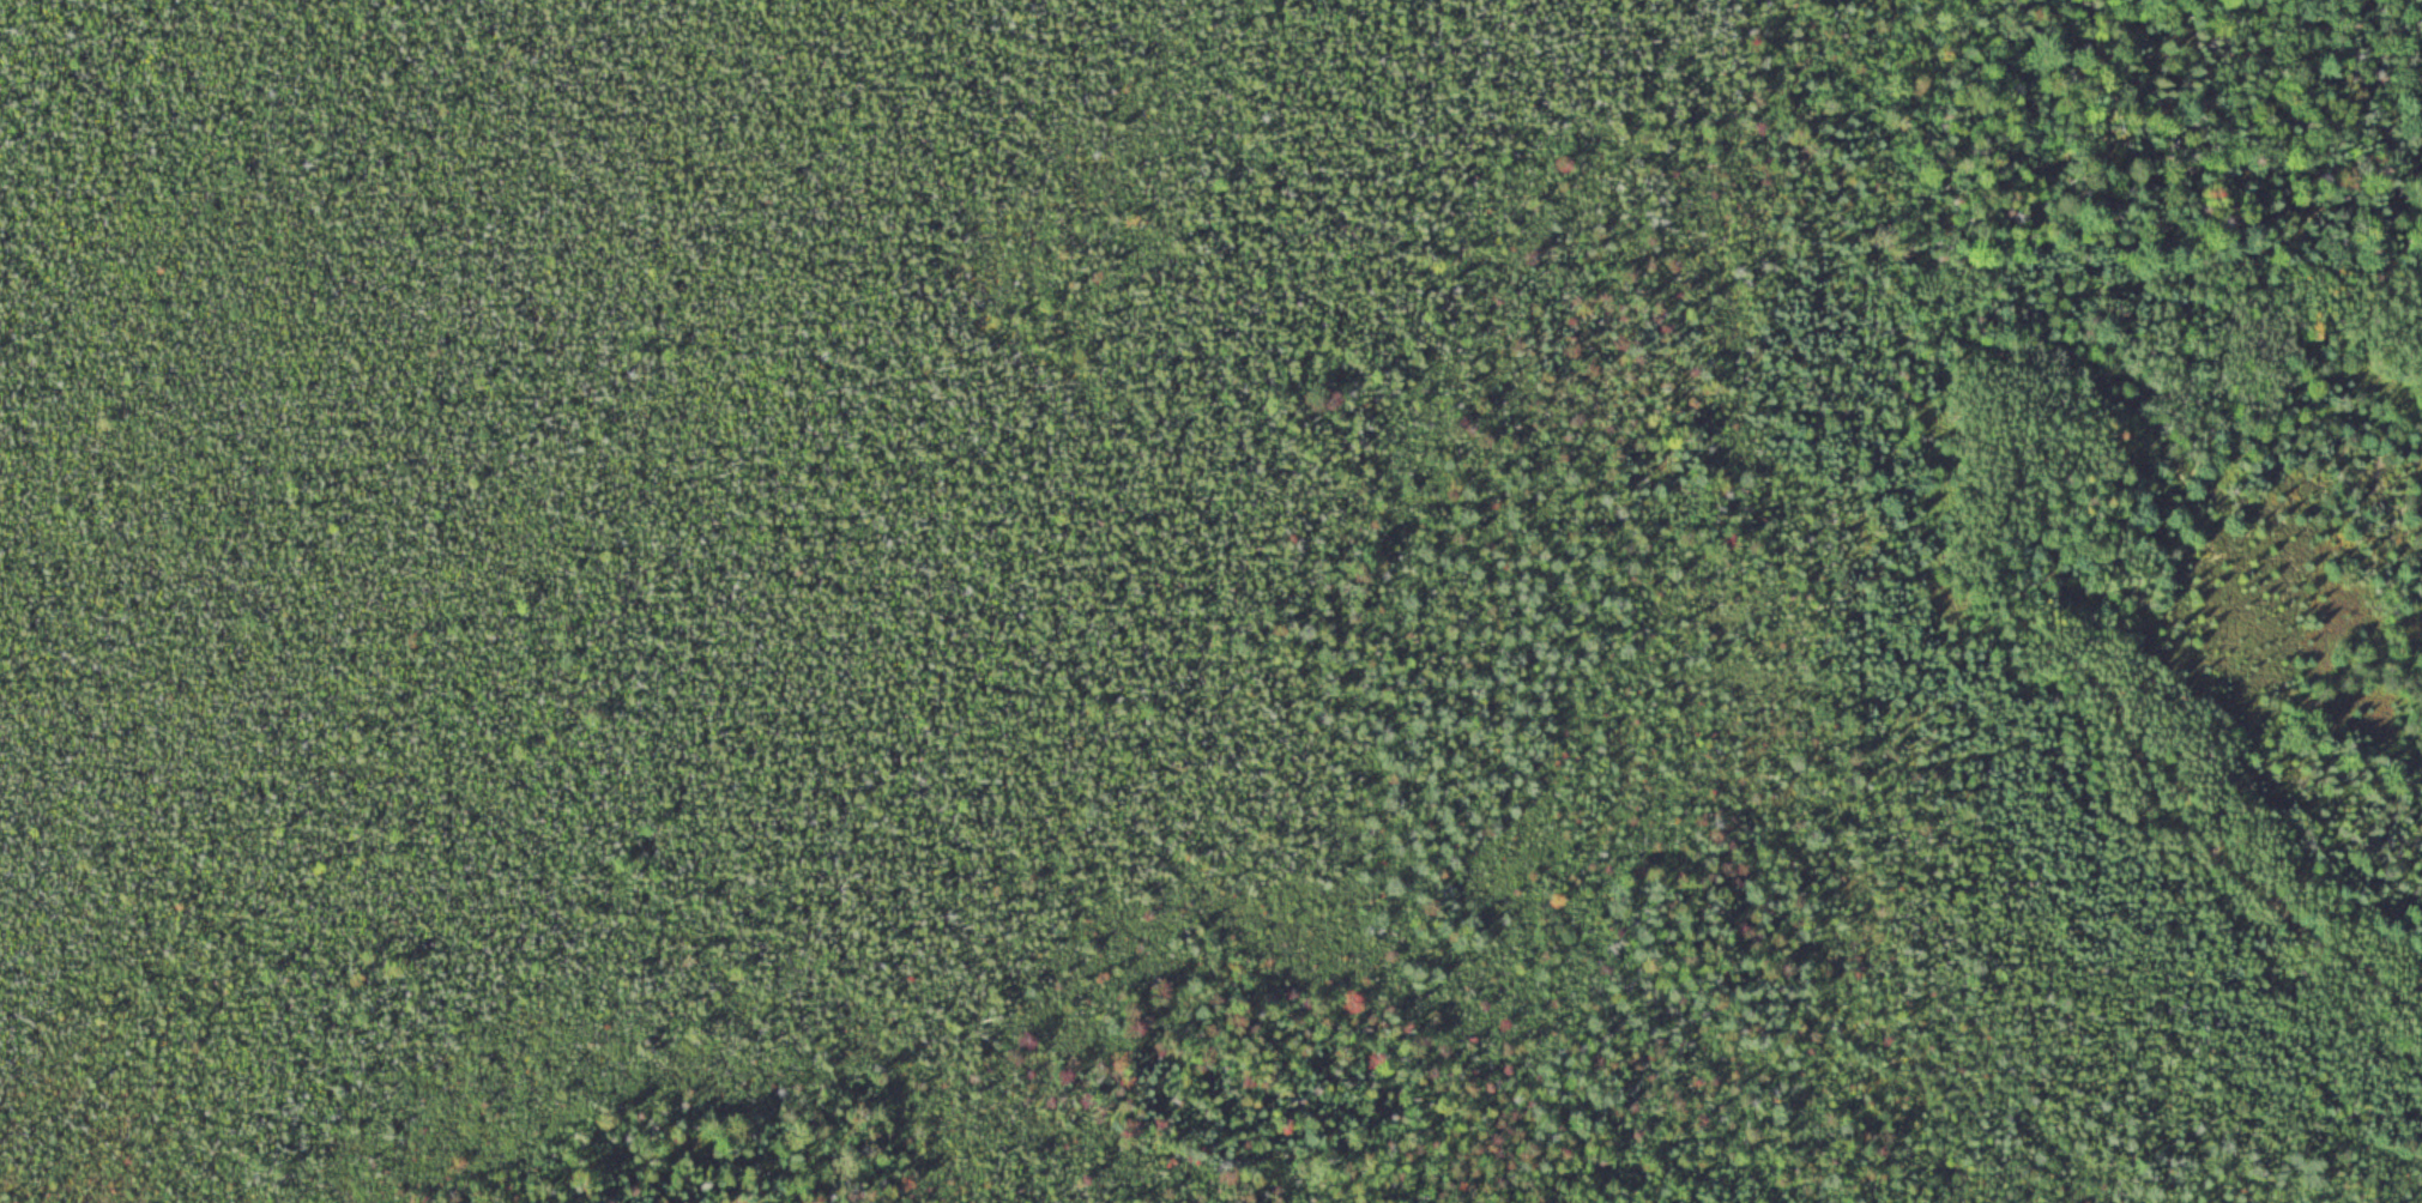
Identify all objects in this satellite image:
road: (2015, 543)
road: (2381, 1145)

